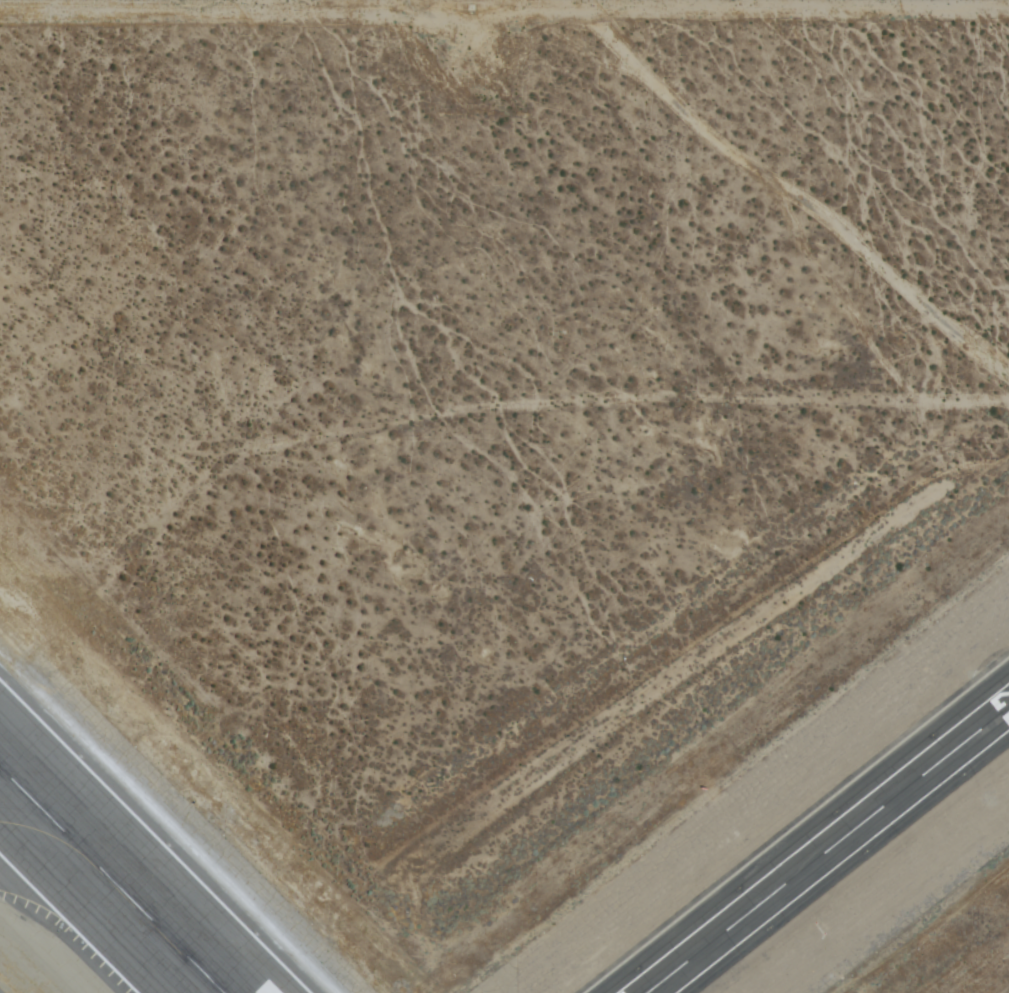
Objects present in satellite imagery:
airport: (504, 496)
airport taxiway: (50, 837)
airport runway: (828, 850)
airport runway: (110, 881)
building: (672, 971)

